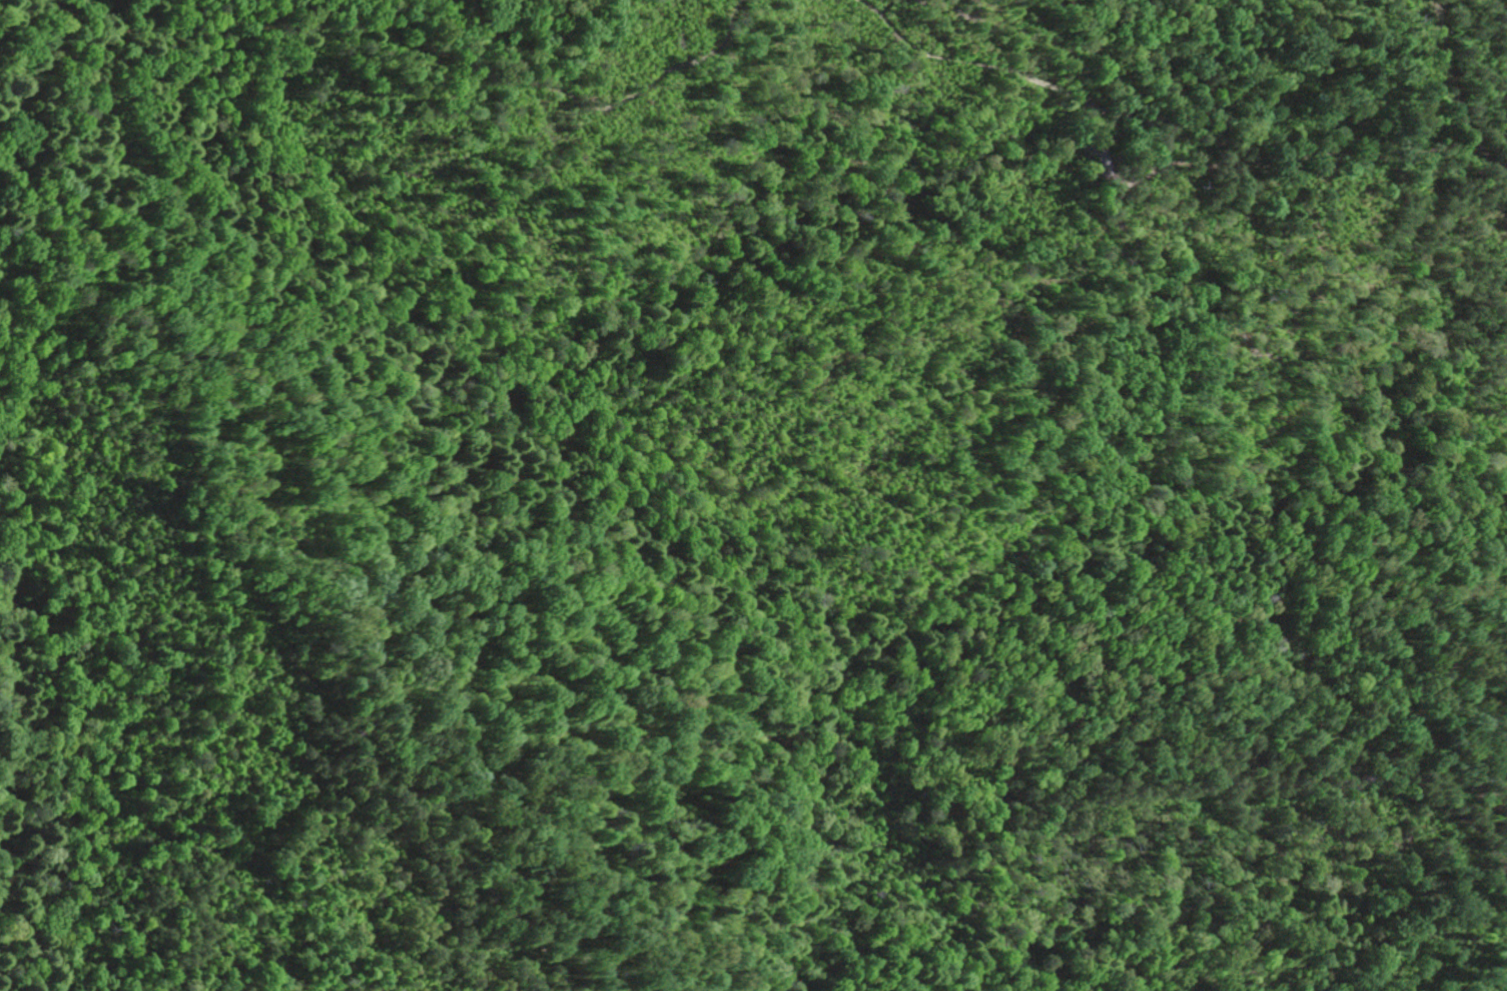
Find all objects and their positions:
road: (1447, 95)

